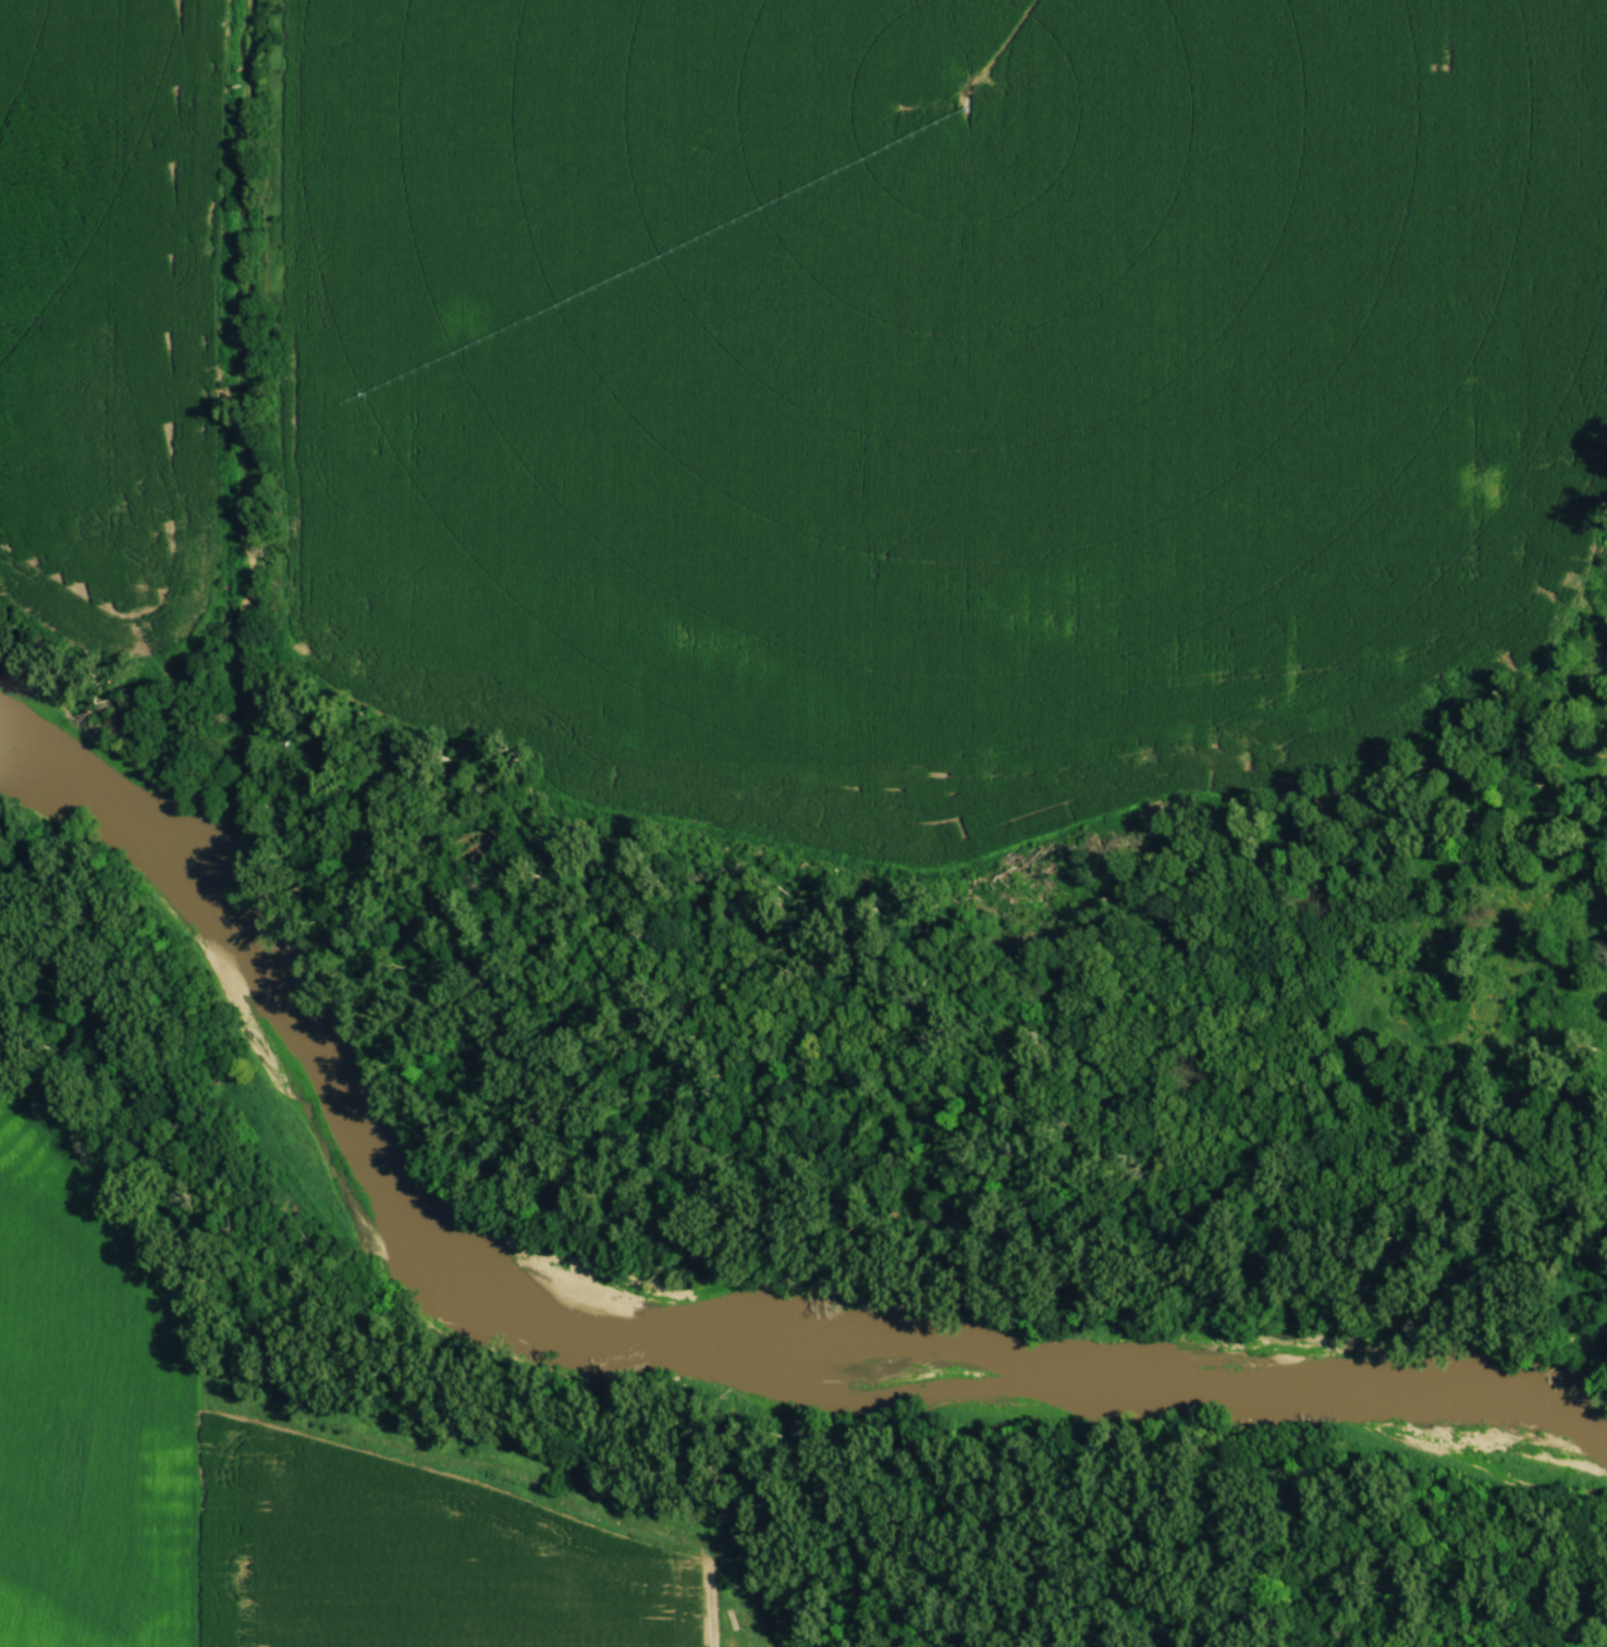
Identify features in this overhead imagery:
river: (675, 1289)

